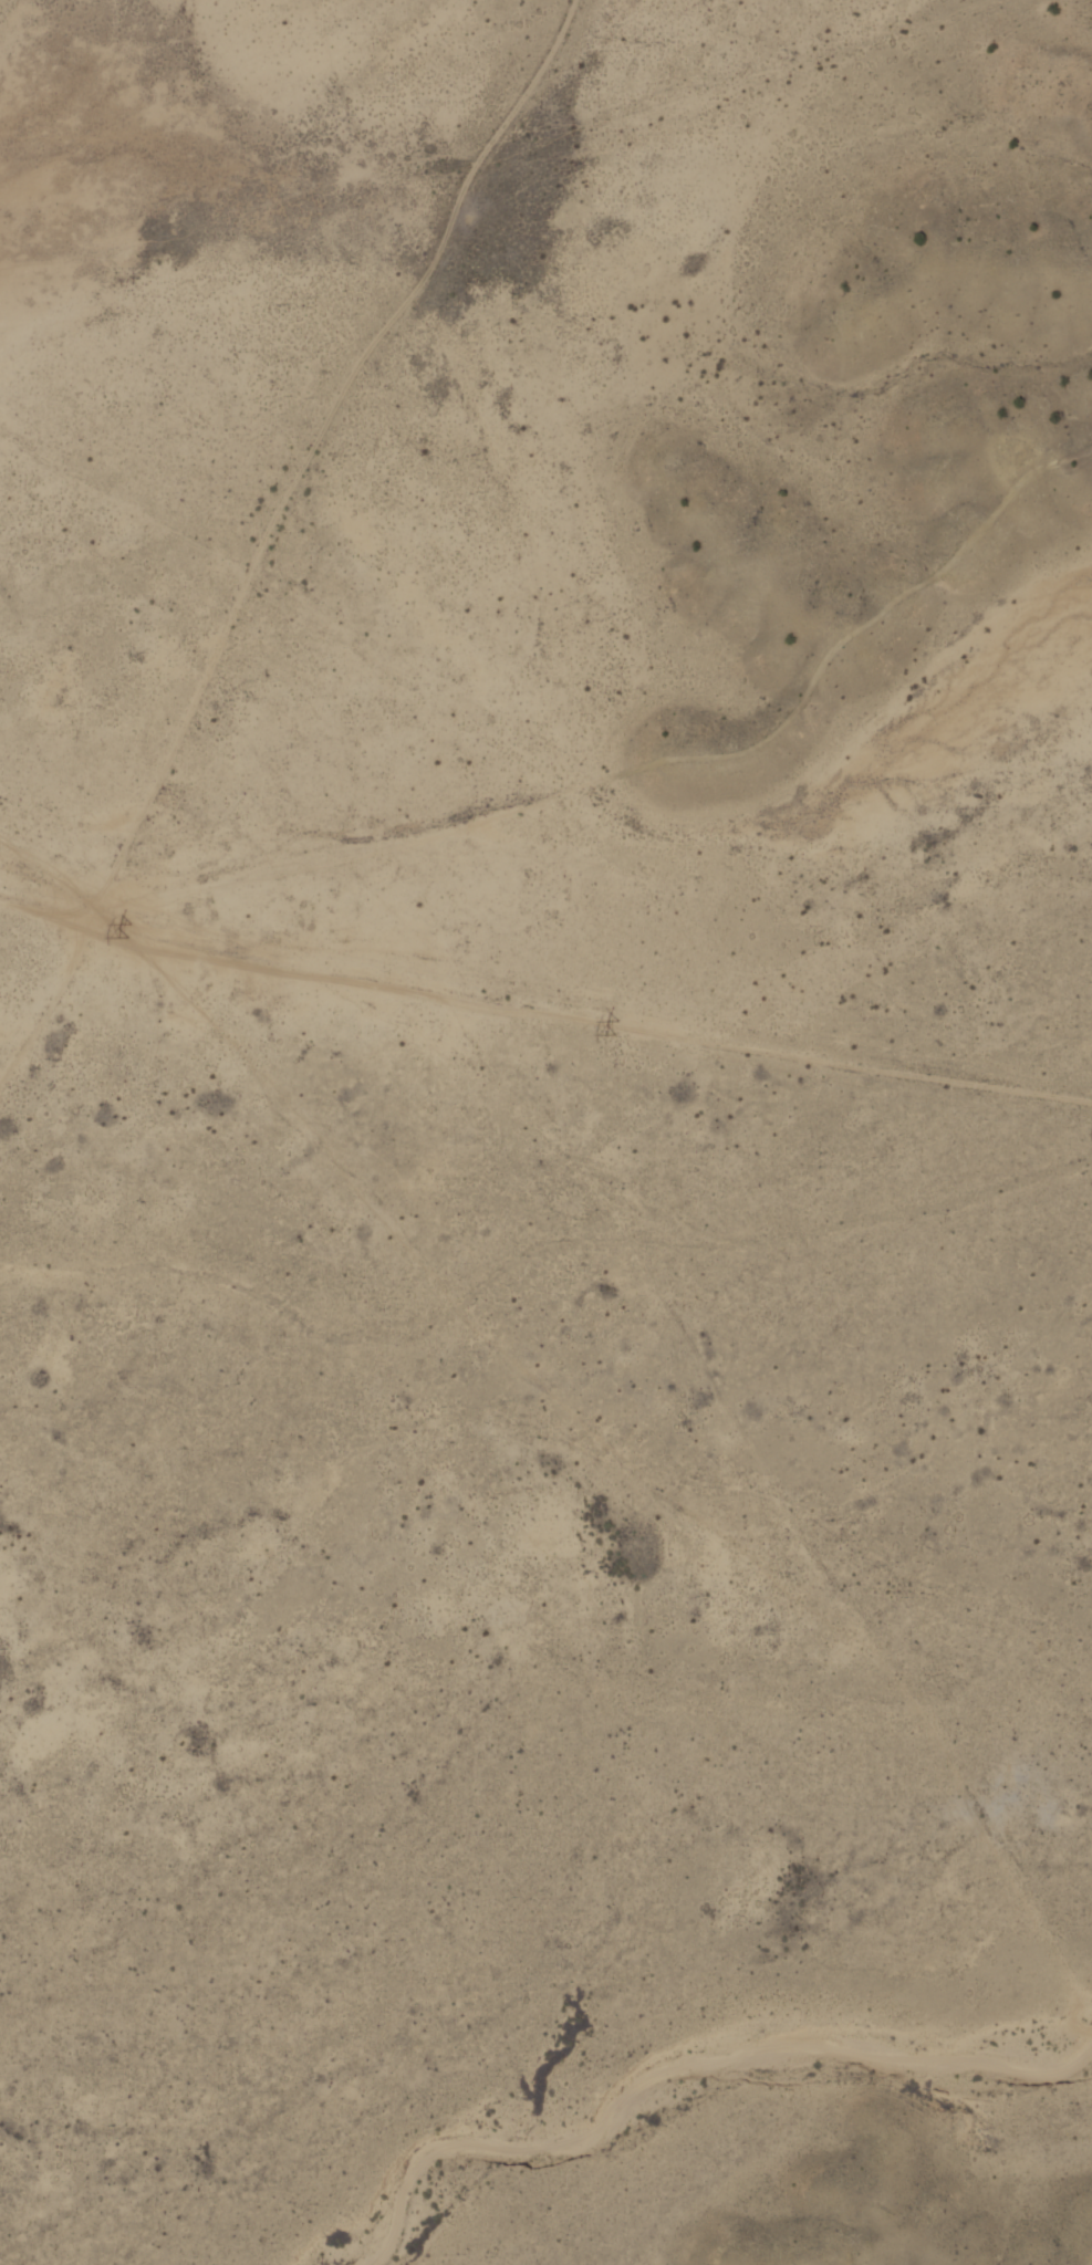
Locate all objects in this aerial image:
road: (273, 535)
power tower: (125, 931)
power tower: (614, 1029)

